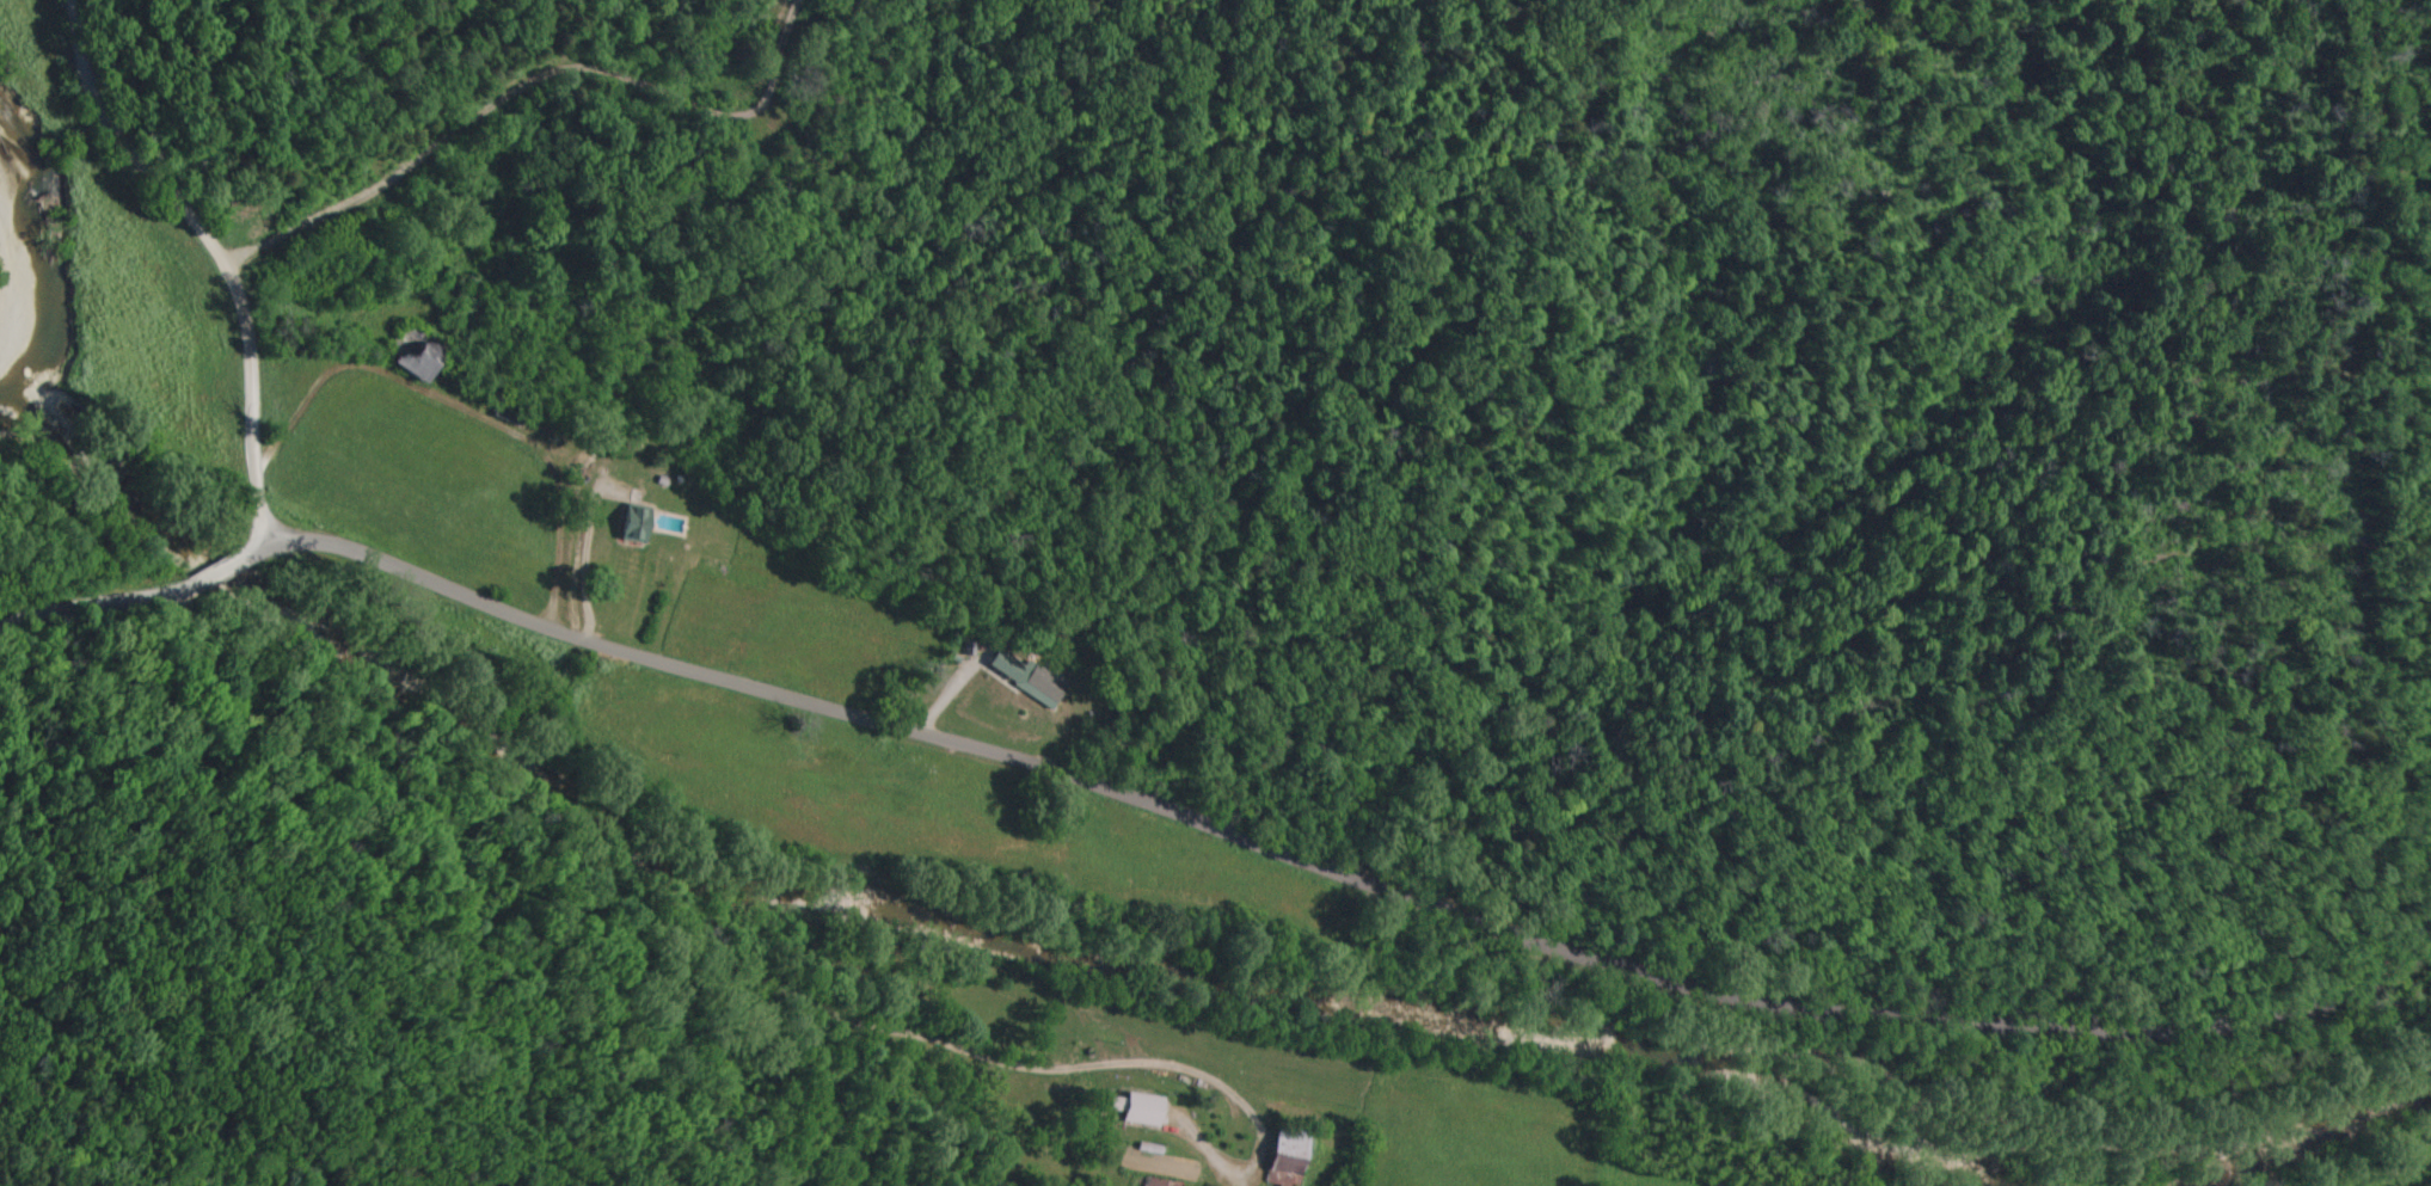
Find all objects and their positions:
road: (520, 98)
road: (201, 260)
river: (39, 289)
building: (413, 363)
road: (446, 432)
building: (627, 527)
road: (570, 579)
building: (1027, 680)
road: (724, 794)
road: (1209, 849)
road: (696, 886)
road: (2012, 1108)
building: (1278, 1160)
building: (1154, 1184)

